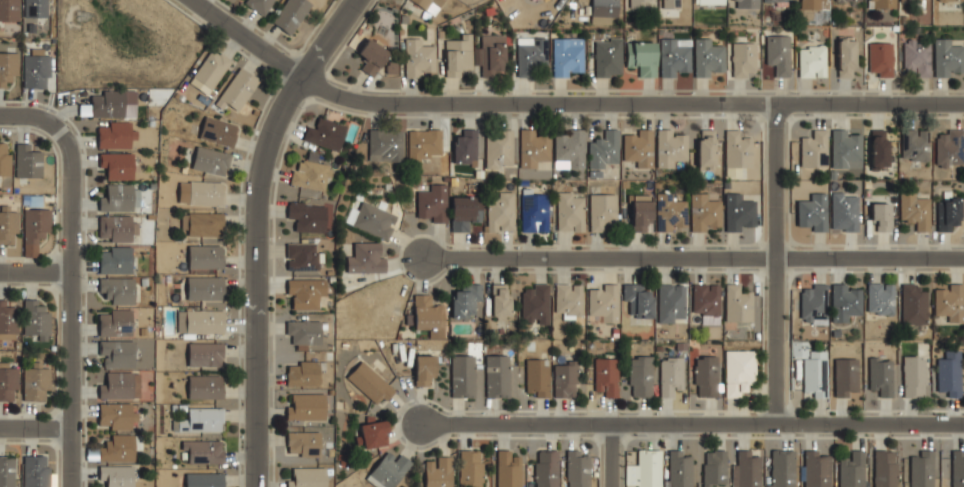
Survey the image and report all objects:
building: (775, 0)
building: (848, 0)
building: (950, 0)
building: (913, 1)
building: (710, 2)
building: (641, 3)
building: (670, 3)
building: (745, 3)
building: (882, 3)
building: (439, 4)
building: (812, 4)
building: (259, 5)
building: (35, 8)
building: (9, 9)
building: (603, 10)
building: (291, 14)
building: (778, 52)
building: (459, 53)
building: (491, 53)
building: (530, 54)
building: (372, 55)
building: (674, 55)
building: (917, 55)
building: (568, 56)
building: (642, 56)
building: (846, 56)
building: (947, 56)
building: (419, 57)
building: (608, 57)
building: (708, 57)
building: (743, 58)
building: (881, 58)
building: (812, 60)
building: (8, 66)
building: (212, 67)
building: (36, 69)
building: (238, 89)
road: (563, 102)
building: (107, 104)
road: (34, 118)
building: (219, 130)
building: (326, 132)
building: (115, 135)
building: (915, 143)
building: (386, 144)
building: (424, 144)
building: (845, 145)
building: (465, 146)
building: (639, 146)
building: (669, 146)
building: (949, 146)
building: (498, 147)
building: (535, 147)
building: (569, 147)
building: (603, 147)
building: (706, 147)
building: (879, 147)
building: (737, 148)
building: (815, 148)
building: (5, 158)
building: (211, 160)
building: (28, 161)
building: (117, 165)
building: (310, 174)
building: (201, 192)
building: (121, 196)
building: (433, 203)
building: (914, 209)
building: (571, 210)
building: (602, 210)
building: (465, 211)
building: (535, 211)
building: (671, 211)
building: (739, 211)
building: (844, 211)
building: (501, 212)
building: (642, 212)
building: (705, 212)
building: (812, 212)
building: (948, 214)
building: (307, 215)
building: (881, 215)
building: (372, 218)
building: (203, 222)
building: (8, 224)
building: (118, 227)
building: (35, 228)
road: (256, 230)
building: (302, 255)
road: (692, 255)
building: (206, 256)
building: (367, 257)
building: (115, 258)
road: (779, 261)
road: (33, 268)
building: (205, 287)
building: (118, 288)
building: (306, 291)
building: (880, 298)
building: (568, 299)
building: (638, 299)
building: (466, 300)
building: (500, 300)
building: (845, 300)
building: (950, 300)
building: (706, 301)
building: (535, 302)
building: (604, 302)
building: (671, 302)
building: (738, 302)
building: (813, 302)
building: (913, 302)
road: (66, 310)
building: (428, 312)
building: (36, 319)
building: (8, 320)
building: (115, 322)
building: (200, 322)
building: (305, 332)
building: (117, 353)
building: (205, 354)
building: (424, 369)
building: (739, 371)
building: (303, 373)
building: (815, 373)
building: (881, 373)
building: (462, 375)
building: (497, 375)
building: (607, 375)
building: (670, 375)
building: (915, 375)
building: (538, 376)
building: (640, 376)
building: (706, 376)
building: (846, 376)
building: (949, 376)
building: (566, 378)
building: (8, 380)
building: (36, 382)
building: (371, 382)
building: (120, 384)
building: (205, 386)
building: (306, 407)
building: (116, 415)
building: (200, 420)
road: (34, 423)
road: (692, 423)
building: (374, 434)
building: (304, 443)
building: (117, 447)
building: (203, 451)
road: (608, 456)
building: (472, 468)
building: (546, 468)
building: (648, 468)
building: (679, 468)
building: (715, 468)
building: (782, 468)
building: (817, 468)
building: (885, 468)
building: (922, 468)
building: (958, 468)
building: (507, 469)
building: (578, 469)
building: (746, 469)
building: (852, 469)
building: (7, 470)
building: (37, 470)
building: (389, 470)
building: (439, 471)
building: (117, 475)
building: (307, 476)
building: (205, 479)

